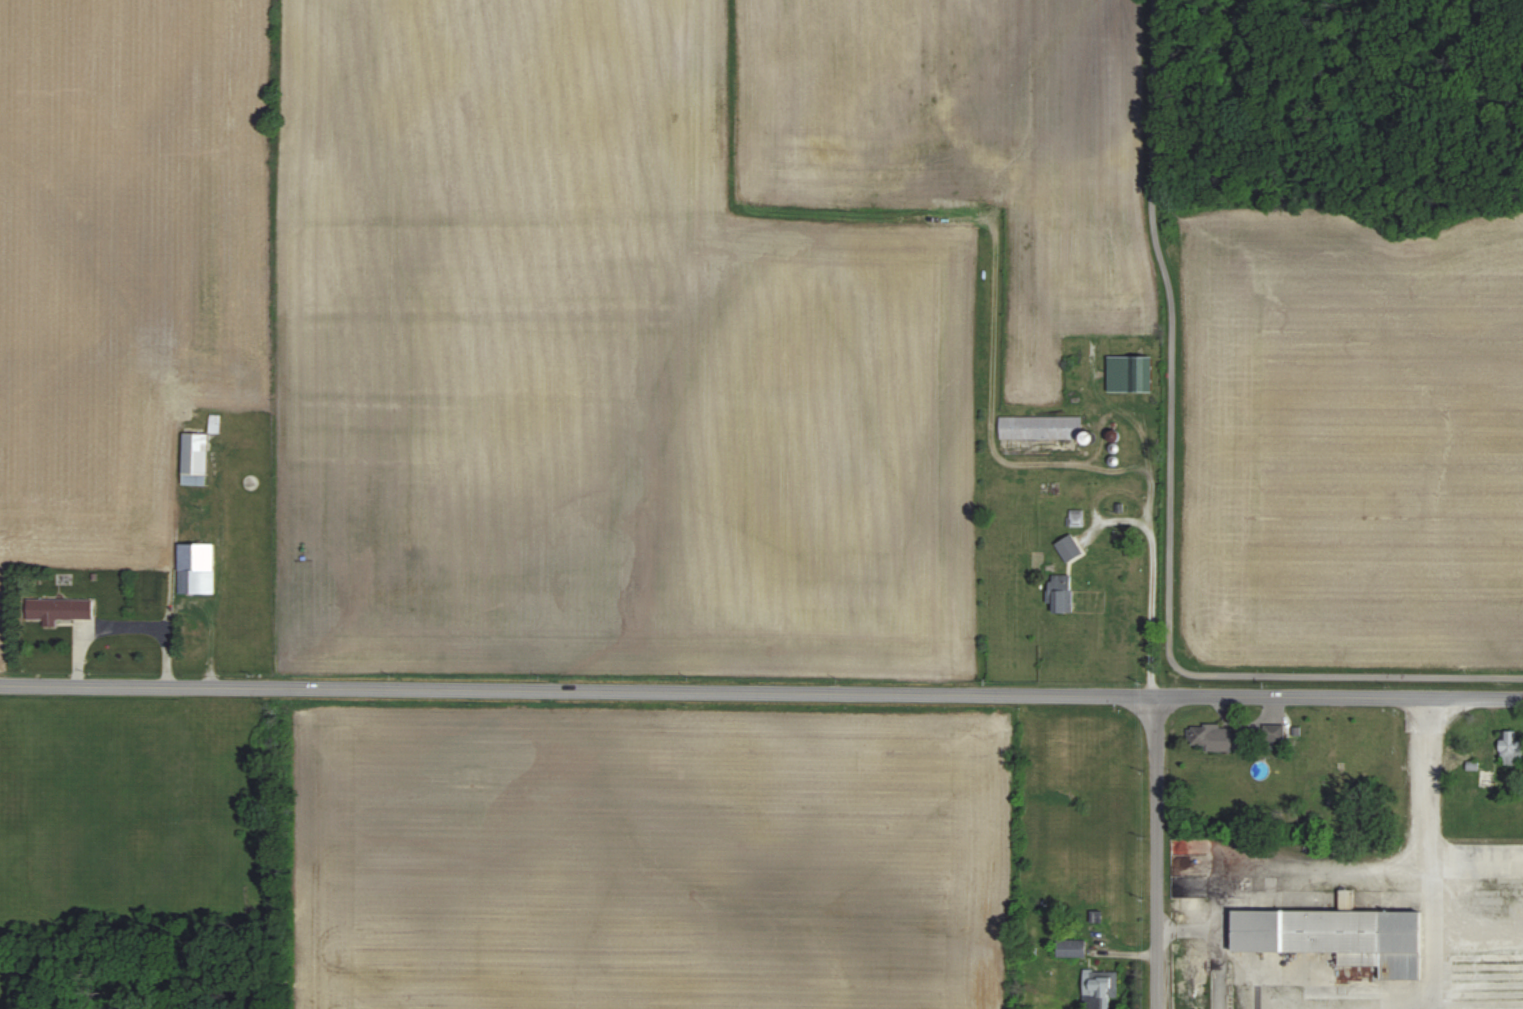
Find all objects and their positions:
building: (1131, 373)
building: (190, 413)
building: (1041, 426)
building: (196, 458)
road: (1166, 506)
road: (1153, 551)
building: (197, 567)
building: (1062, 593)
building: (59, 609)
road: (162, 627)
road: (576, 692)
road: (1338, 696)
building: (1274, 732)
building: (1219, 736)
building: (1511, 747)
building: (1487, 776)
road: (1431, 852)
road: (1156, 853)
road: (1359, 865)
building: (1340, 935)
building: (1072, 947)
building: (1102, 989)

